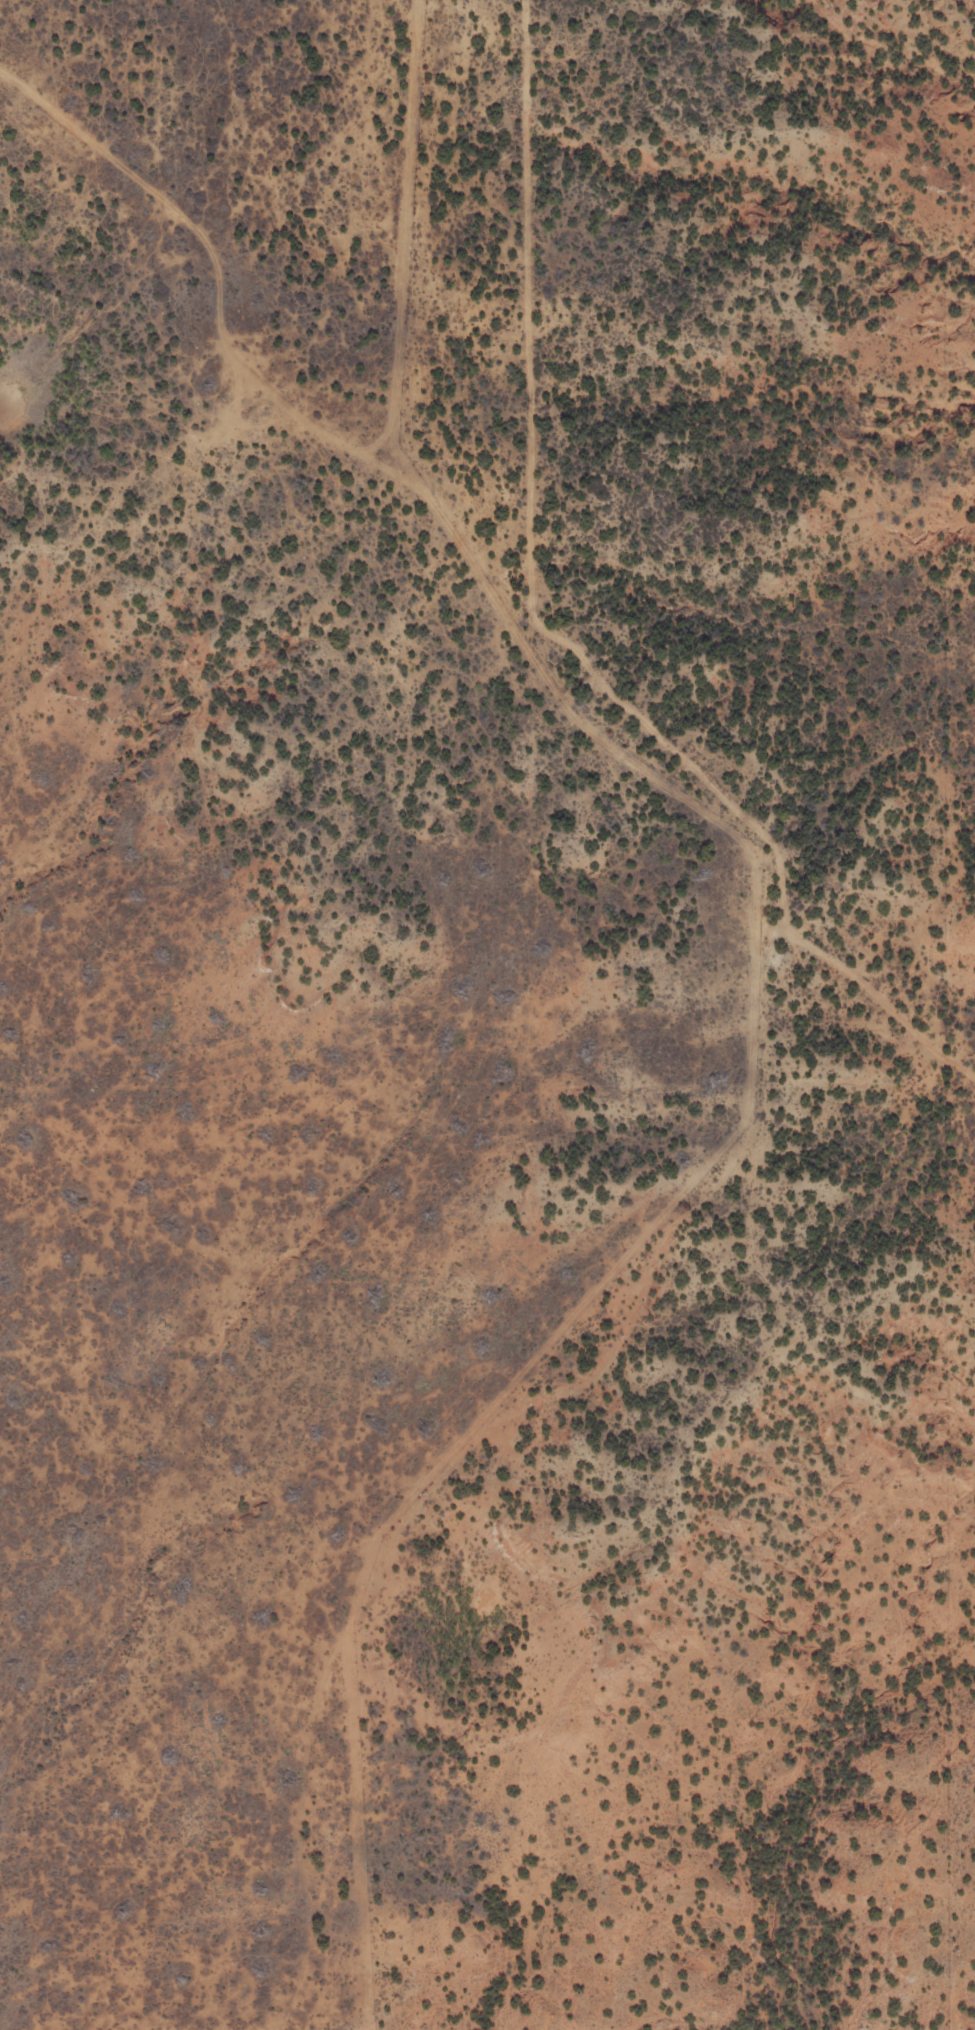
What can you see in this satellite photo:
road: (721, 962)

